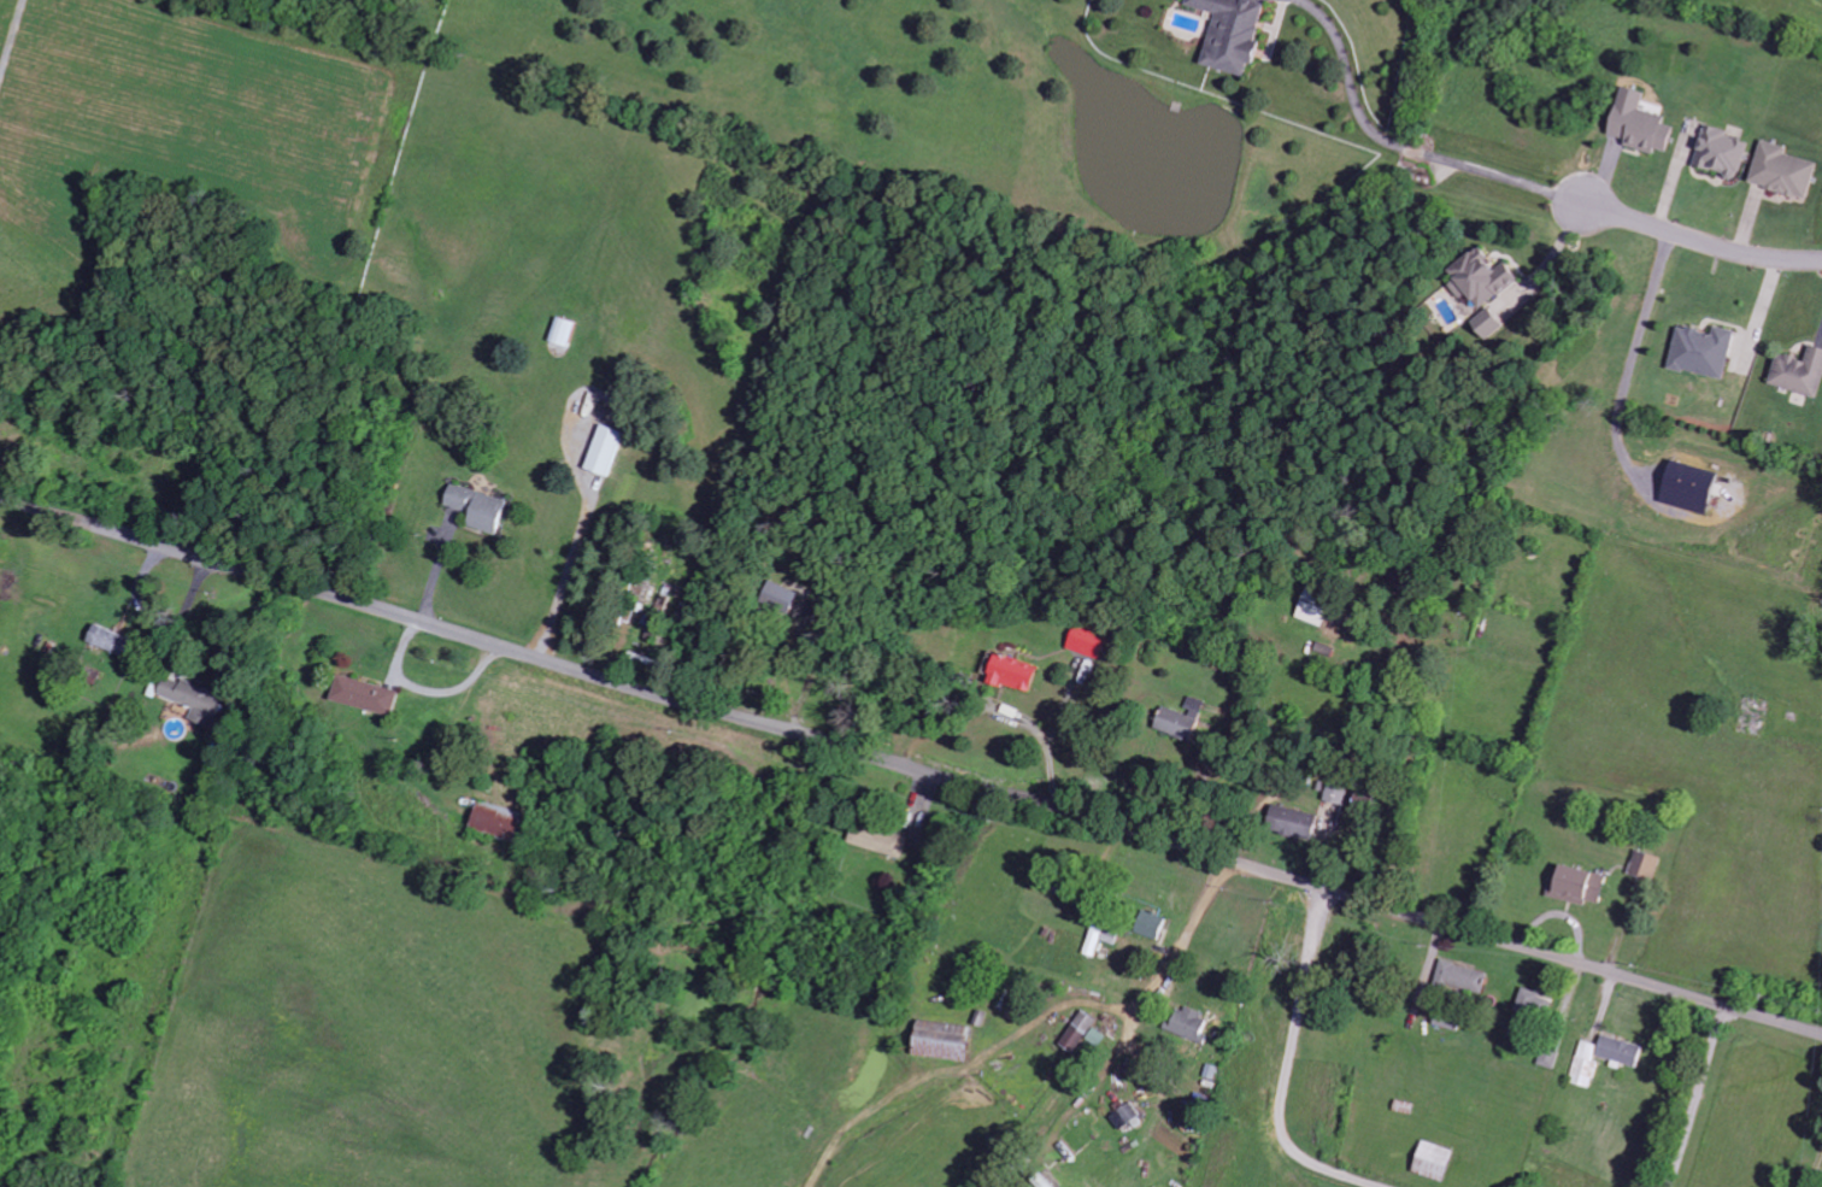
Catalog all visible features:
building: (1229, 33)
building: (1636, 124)
road: (1409, 143)
building: (1718, 152)
building: (1780, 171)
road: (1700, 241)
building: (1479, 278)
building: (1486, 325)
building: (562, 330)
building: (1700, 352)
building: (1798, 372)
building: (603, 449)
building: (1686, 487)
building: (476, 507)
building: (640, 589)
building: (782, 597)
building: (1313, 609)
building: (105, 639)
building: (1088, 641)
building: (1010, 672)
building: (89, 675)
building: (363, 694)
building: (194, 699)
building: (1180, 719)
road: (910, 766)
building: (1335, 793)
building: (494, 819)
building: (1291, 822)
building: (878, 840)
building: (1644, 866)
building: (1576, 885)
building: (1150, 924)
building: (1098, 938)
building: (1460, 977)
road: (1201, 981)
building: (1533, 1004)
building: (1186, 1023)
building: (1082, 1033)
building: (939, 1040)
building: (1552, 1050)
building: (1603, 1057)
building: (1127, 1118)
building: (1430, 1160)

